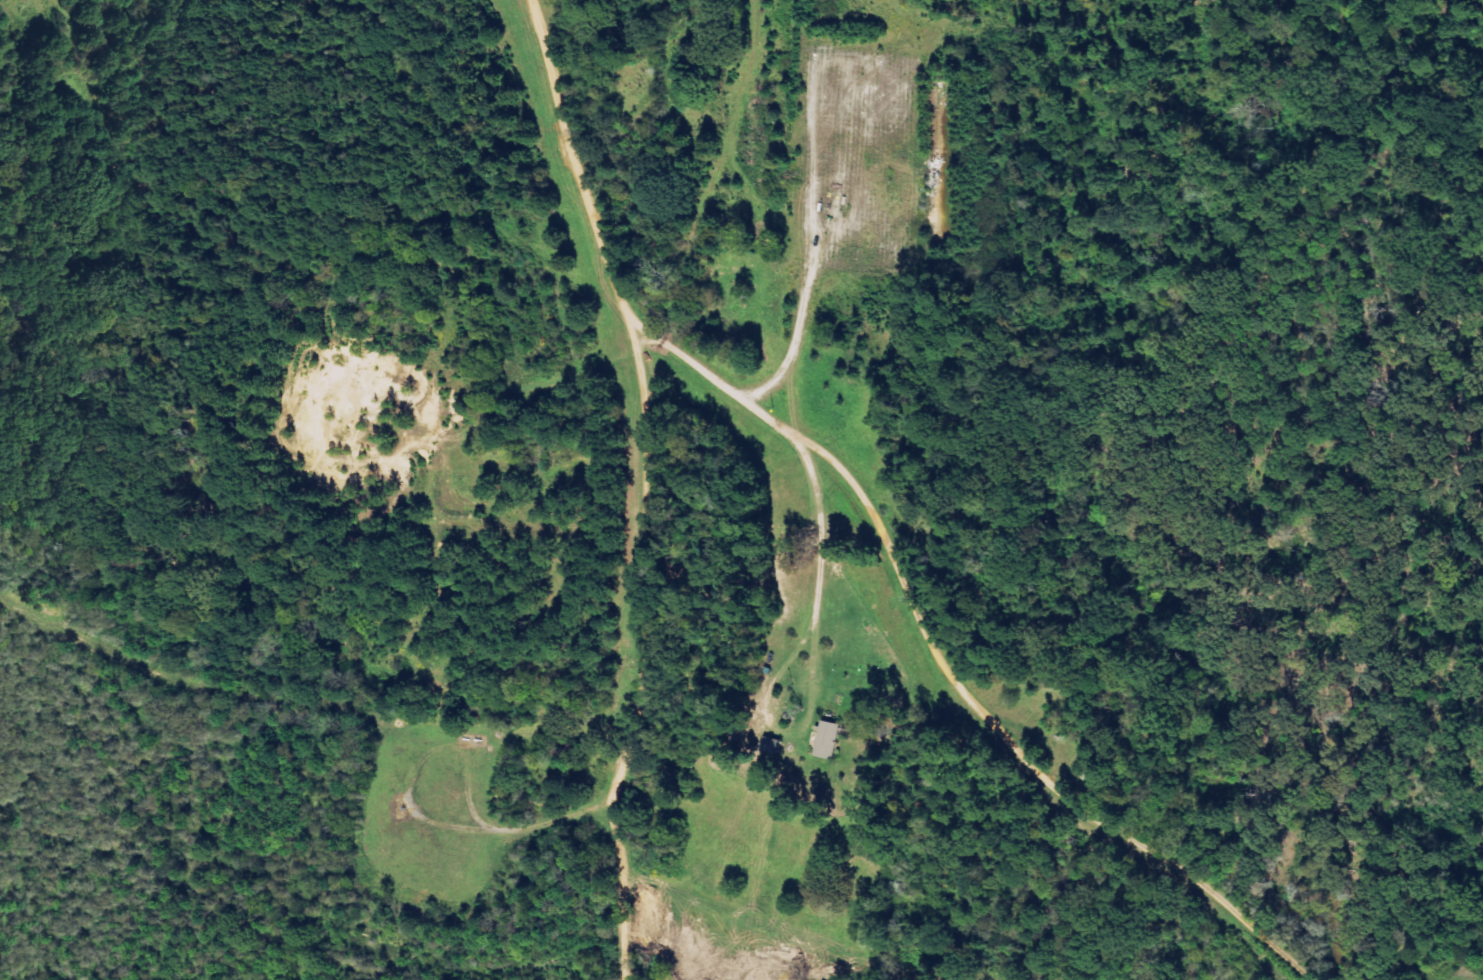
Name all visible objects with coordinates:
road: (644, 484)
building: (826, 739)

